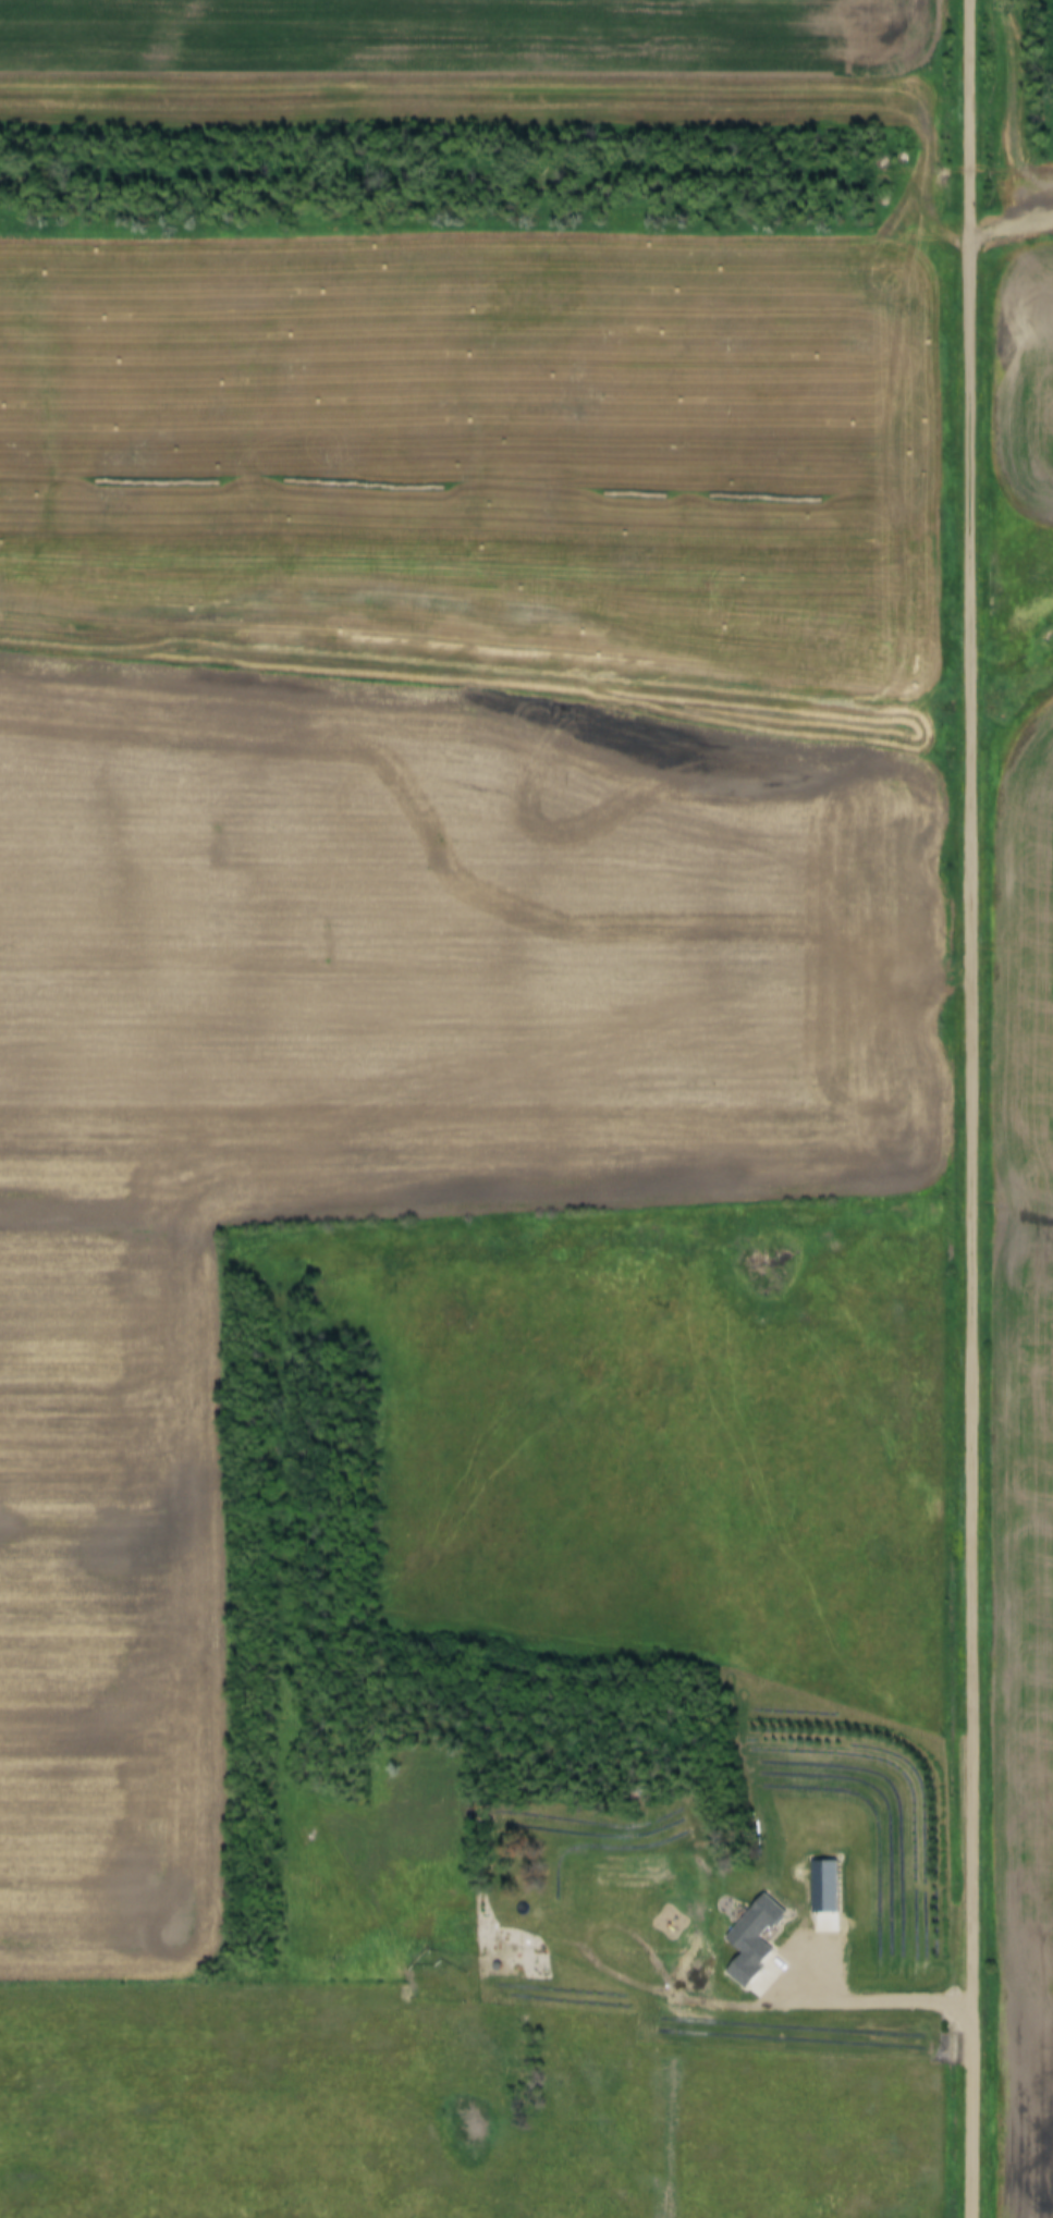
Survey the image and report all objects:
building: (899, 159)
building: (879, 182)
road: (975, 1007)
building: (822, 1887)
building: (749, 1938)
road: (697, 1999)
road: (971, 2117)

